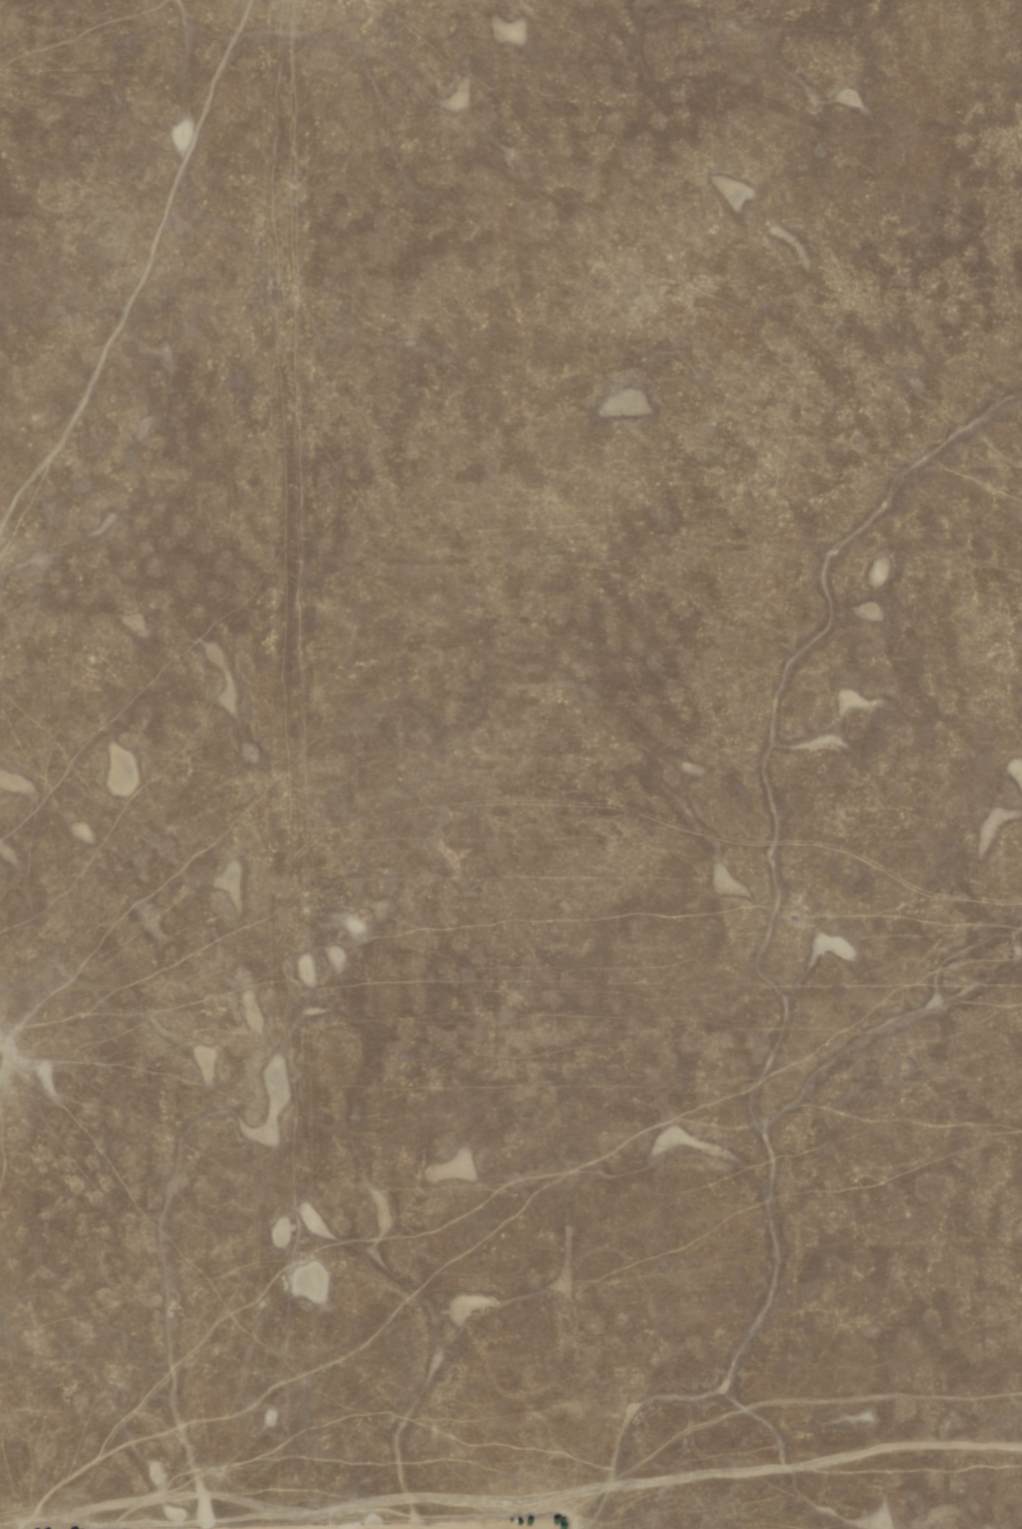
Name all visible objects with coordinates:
crop: (277, 1523)

